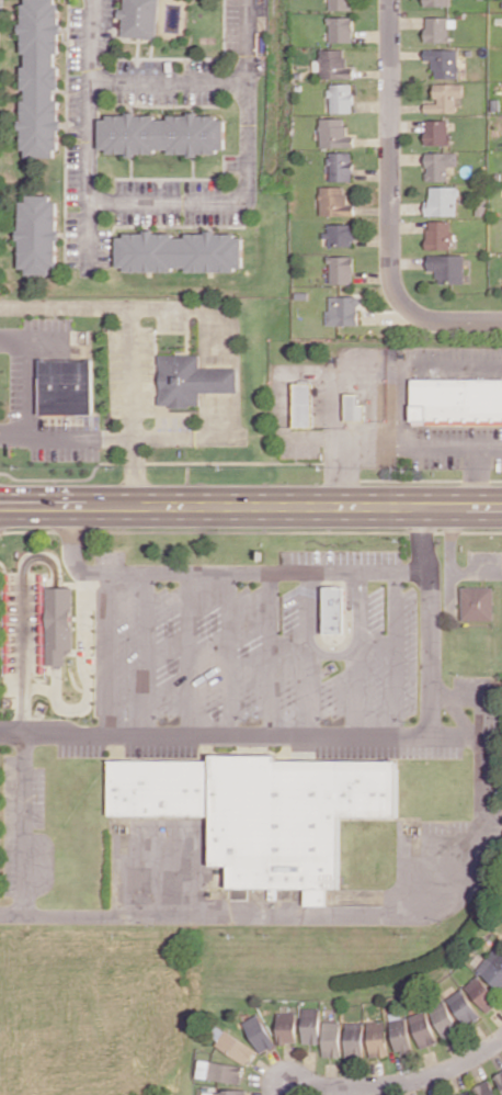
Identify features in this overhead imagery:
building: (437, 2)
building: (340, 4)
building: (139, 18)
building: (340, 29)
building: (436, 29)
building: (443, 63)
building: (333, 64)
building: (39, 78)
road: (168, 81)
building: (340, 98)
building: (444, 98)
building: (435, 132)
building: (334, 133)
building: (162, 134)
road: (88, 136)
road: (390, 153)
building: (438, 165)
building: (340, 166)
road: (248, 180)
building: (334, 201)
building: (441, 201)
building: (37, 234)
building: (339, 234)
building: (437, 234)
building: (180, 251)
building: (446, 267)
building: (340, 269)
building: (342, 311)
road: (448, 323)
road: (418, 369)
road: (133, 374)
road: (23, 376)
road: (226, 377)
building: (192, 380)
building: (67, 386)
building: (456, 400)
building: (303, 404)
building: (353, 408)
road: (338, 440)
road: (333, 445)
road: (164, 463)
road: (134, 473)
road: (474, 477)
road: (421, 481)
road: (251, 507)
road: (220, 571)
building: (476, 603)
building: (333, 609)
road: (310, 611)
road: (352, 611)
building: (58, 623)
road: (111, 647)
road: (148, 647)
road: (229, 647)
road: (272, 647)
road: (392, 647)
road: (192, 648)
road: (332, 650)
road: (243, 725)
building: (262, 810)
road: (23, 815)
road: (456, 902)
building: (492, 966)
building: (481, 993)
building: (464, 1007)
building: (444, 1019)
building: (311, 1025)
building: (286, 1027)
building: (422, 1028)
building: (259, 1032)
building: (400, 1032)
building: (377, 1038)
building: (331, 1039)
building: (354, 1039)
building: (236, 1047)
building: (219, 1071)
building: (500, 1076)
road: (403, 1083)
building: (486, 1088)
building: (225, 1092)
building: (465, 1093)

